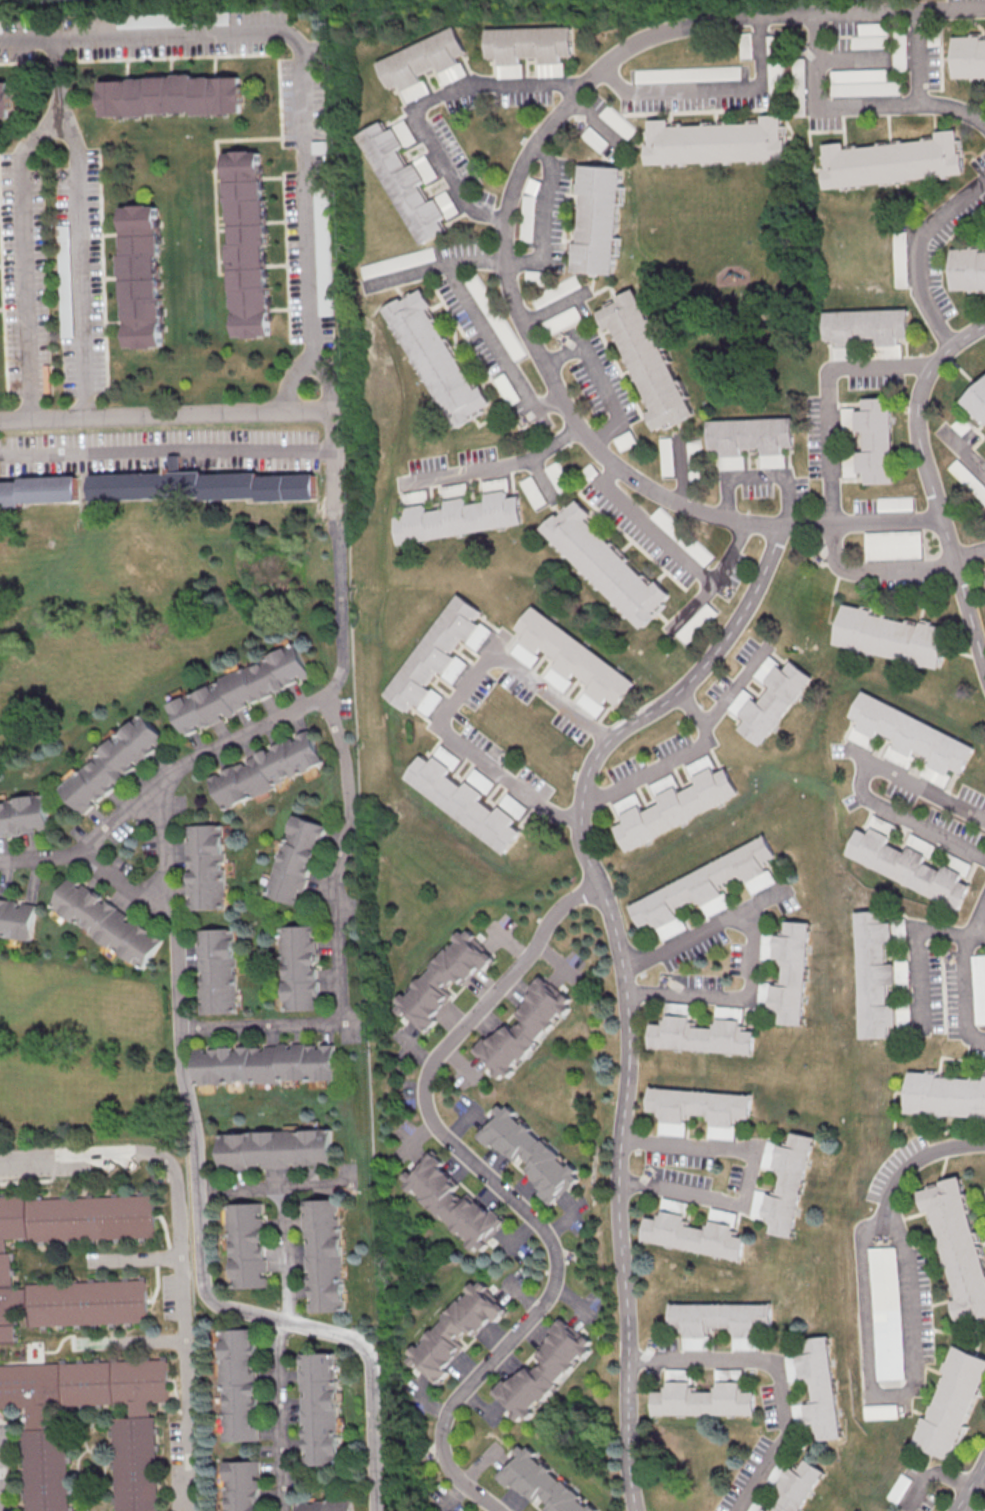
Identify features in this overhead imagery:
building: (869, 35)
road: (30, 43)
building: (528, 43)
building: (898, 49)
building: (968, 56)
building: (421, 58)
road: (917, 59)
building: (774, 63)
road: (854, 64)
building: (718, 73)
building: (861, 82)
road: (714, 92)
building: (170, 95)
building: (5, 100)
road: (423, 103)
road: (305, 108)
road: (821, 109)
building: (715, 140)
building: (892, 160)
building: (403, 181)
building: (595, 218)
road: (83, 230)
building: (321, 233)
building: (246, 243)
road: (922, 252)
building: (898, 257)
building: (396, 262)
road: (29, 263)
road: (515, 264)
building: (967, 268)
road: (510, 276)
building: (141, 277)
road: (557, 311)
building: (865, 326)
road: (496, 348)
building: (841, 353)
building: (433, 358)
building: (645, 359)
road: (600, 385)
building: (975, 400)
road: (547, 408)
road: (164, 419)
building: (751, 434)
road: (330, 436)
building: (876, 440)
road: (966, 453)
building: (665, 456)
road: (165, 459)
road: (493, 471)
road: (683, 473)
road: (763, 475)
road: (832, 478)
building: (967, 482)
road: (547, 483)
road: (930, 483)
building: (494, 484)
building: (197, 485)
building: (37, 490)
building: (453, 490)
building: (532, 491)
building: (412, 497)
building: (895, 503)
building: (459, 517)
road: (333, 521)
road: (649, 528)
building: (893, 544)
road: (968, 556)
building: (606, 564)
road: (710, 582)
building: (694, 623)
park: (87, 629)
building: (891, 636)
building: (434, 652)
building: (573, 656)
road: (734, 684)
building: (236, 691)
building: (773, 701)
road: (455, 702)
building: (910, 734)
road: (669, 758)
building: (112, 763)
building: (266, 769)
road: (914, 785)
building: (463, 801)
building: (675, 808)
building: (23, 815)
road: (925, 830)
road: (95, 848)
building: (294, 859)
road: (346, 863)
building: (204, 866)
building: (908, 867)
building: (707, 883)
road: (133, 889)
building: (17, 918)
road: (977, 920)
building: (105, 921)
road: (707, 928)
road: (912, 948)
building: (299, 967)
building: (216, 970)
building: (789, 972)
building: (870, 972)
building: (441, 977)
road: (626, 980)
building: (976, 987)
road: (962, 988)
road: (735, 998)
building: (679, 1007)
building: (523, 1028)
road: (266, 1034)
building: (702, 1034)
road: (975, 1041)
road: (186, 1056)
building: (264, 1063)
building: (943, 1094)
building: (698, 1105)
building: (274, 1148)
building: (529, 1151)
road: (917, 1158)
road: (749, 1174)
road: (276, 1183)
building: (790, 1184)
road: (500, 1191)
building: (449, 1200)
building: (694, 1235)
building: (246, 1245)
building: (957, 1245)
road: (182, 1250)
building: (323, 1255)
building: (4, 1260)
road: (137, 1263)
building: (884, 1312)
building: (720, 1318)
building: (452, 1331)
road: (151, 1345)
road: (281, 1345)
building: (542, 1369)
road: (777, 1372)
building: (237, 1384)
building: (819, 1390)
road: (881, 1395)
building: (703, 1398)
building: (949, 1401)
building: (318, 1408)
building: (877, 1411)
building: (41, 1458)
road: (935, 1475)
road: (0, 1482)
building: (539, 1482)
road: (969, 1482)
building: (240, 1485)
building: (796, 1486)
building: (896, 1488)
building: (323, 1505)
building: (977, 1510)

